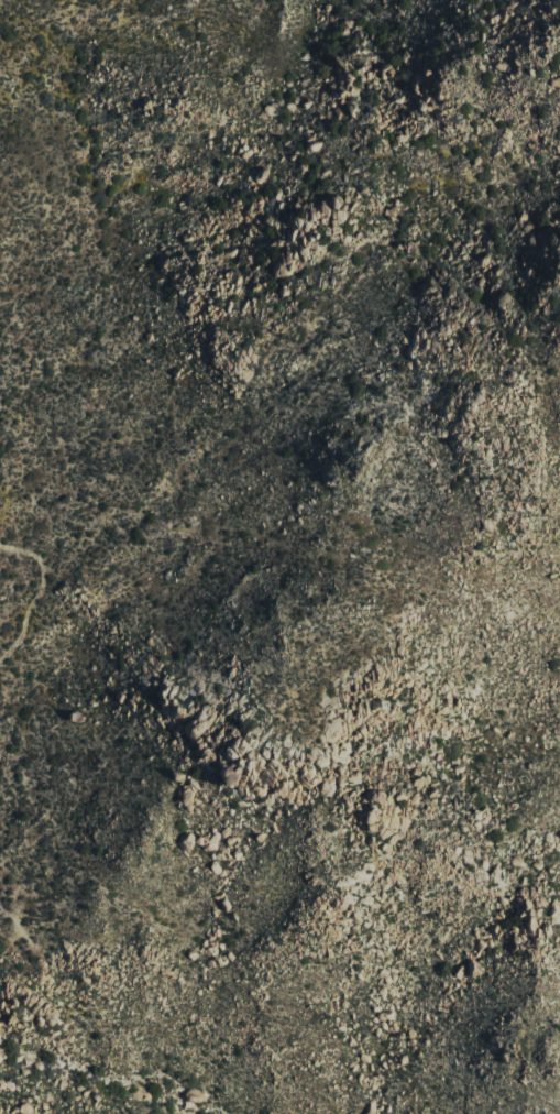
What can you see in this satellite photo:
park: (288, 1067)

